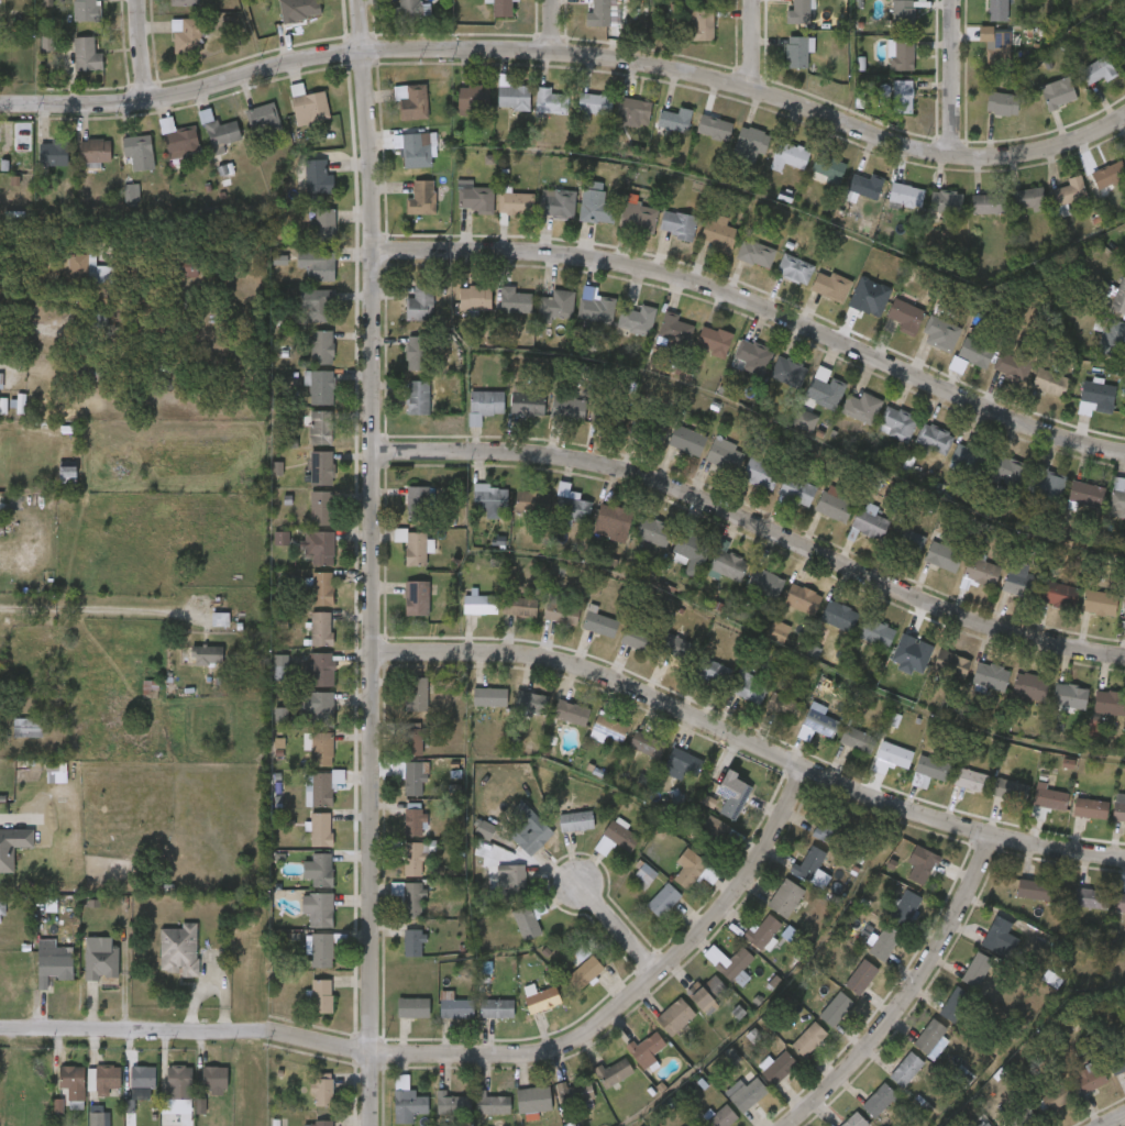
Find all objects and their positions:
building: (0, 1)
building: (184, 2)
building: (503, 8)
building: (408, 9)
building: (87, 10)
building: (997, 10)
building: (798, 12)
building: (602, 13)
building: (297, 14)
building: (903, 14)
road: (553, 19)
building: (701, 24)
building: (186, 35)
road: (755, 37)
road: (570, 40)
building: (999, 48)
road: (143, 49)
building: (797, 51)
building: (1121, 51)
building: (87, 54)
building: (902, 54)
building: (1096, 70)
road: (956, 71)
building: (1057, 93)
building: (902, 96)
building: (473, 97)
building: (514, 97)
building: (551, 100)
building: (412, 101)
building: (594, 103)
building: (1002, 103)
building: (310, 106)
building: (635, 110)
building: (263, 119)
building: (675, 120)
building: (715, 128)
building: (220, 129)
building: (0, 133)
building: (181, 140)
building: (751, 143)
building: (416, 148)
building: (95, 151)
building: (137, 152)
building: (53, 154)
building: (788, 155)
building: (828, 166)
building: (1110, 174)
building: (319, 176)
building: (864, 185)
building: (1070, 190)
building: (905, 192)
building: (132, 195)
building: (421, 198)
building: (1028, 198)
building: (474, 200)
building: (946, 201)
building: (517, 202)
building: (558, 202)
building: (988, 203)
building: (597, 209)
building: (639, 217)
building: (677, 224)
building: (322, 225)
building: (719, 235)
building: (755, 252)
building: (320, 265)
building: (136, 266)
building: (795, 268)
building: (86, 269)
building: (189, 271)
building: (831, 285)
building: (474, 296)
building: (1120, 297)
building: (514, 298)
building: (867, 300)
building: (420, 302)
building: (556, 303)
building: (321, 305)
road: (759, 306)
building: (597, 309)
building: (906, 316)
building: (99, 319)
building: (638, 319)
building: (676, 328)
building: (940, 334)
building: (1110, 334)
building: (714, 340)
building: (321, 346)
building: (975, 351)
building: (418, 352)
building: (753, 355)
building: (958, 365)
building: (1013, 365)
building: (788, 371)
building: (88, 372)
building: (0, 382)
building: (1050, 382)
building: (320, 386)
building: (825, 388)
building: (418, 396)
building: (1096, 396)
building: (486, 401)
building: (528, 402)
building: (569, 407)
building: (862, 407)
building: (609, 413)
building: (805, 421)
building: (897, 423)
building: (650, 426)
building: (321, 428)
building: (934, 439)
building: (686, 440)
building: (725, 453)
building: (989, 465)
building: (321, 467)
building: (67, 472)
building: (761, 472)
building: (1047, 486)
building: (797, 489)
building: (1085, 493)
building: (489, 498)
building: (1117, 498)
building: (418, 501)
building: (530, 501)
building: (831, 504)
building: (321, 507)
building: (572, 508)
building: (613, 521)
building: (870, 522)
road: (755, 523)
building: (653, 531)
building: (282, 539)
building: (907, 542)
building: (413, 545)
building: (323, 549)
building: (692, 550)
building: (942, 555)
building: (728, 561)
road: (373, 562)
building: (981, 571)
building: (765, 582)
building: (322, 588)
building: (1040, 589)
building: (417, 597)
building: (803, 598)
building: (1100, 601)
building: (481, 603)
building: (520, 606)
building: (562, 609)
road: (98, 610)
building: (839, 615)
building: (221, 619)
building: (599, 621)
building: (321, 628)
building: (779, 631)
building: (875, 631)
building: (639, 638)
building: (679, 647)
building: (913, 648)
building: (208, 655)
building: (955, 666)
building: (282, 667)
building: (322, 669)
building: (713, 671)
building: (991, 674)
building: (1029, 686)
building: (748, 688)
building: (417, 694)
building: (1070, 694)
building: (489, 696)
building: (531, 702)
building: (1110, 702)
building: (784, 705)
building: (321, 707)
building: (571, 711)
building: (282, 716)
building: (816, 722)
building: (610, 727)
building: (32, 728)
building: (857, 738)
building: (412, 739)
building: (644, 742)
road: (749, 742)
building: (13, 747)
building: (321, 748)
building: (894, 753)
building: (683, 761)
building: (933, 766)
building: (415, 777)
building: (971, 779)
building: (920, 781)
building: (321, 786)
building: (1011, 790)
building: (732, 794)
building: (1047, 801)
building: (1091, 807)
building: (1118, 810)
building: (576, 820)
road: (10, 821)
building: (413, 823)
building: (827, 828)
building: (321, 829)
building: (485, 830)
building: (725, 832)
building: (531, 837)
building: (615, 838)
building: (8, 857)
building: (413, 860)
building: (810, 863)
building: (924, 866)
building: (319, 869)
building: (690, 871)
building: (644, 872)
building: (511, 880)
building: (1034, 888)
building: (409, 896)
building: (785, 897)
building: (1090, 897)
building: (663, 899)
building: (1121, 902)
building: (906, 907)
building: (318, 909)
building: (2, 912)
building: (529, 918)
road: (618, 930)
building: (762, 930)
building: (412, 941)
building: (884, 942)
building: (322, 949)
building: (180, 950)
building: (990, 951)
building: (582, 953)
building: (101, 959)
building: (54, 963)
building: (736, 964)
building: (164, 970)
building: (584, 971)
building: (861, 976)
building: (85, 981)
building: (37, 989)
building: (707, 992)
road: (908, 994)
building: (322, 995)
building: (542, 998)
building: (957, 1004)
building: (412, 1006)
building: (455, 1007)
building: (496, 1007)
building: (836, 1008)
building: (675, 1016)
building: (930, 1036)
building: (809, 1038)
building: (648, 1046)
road: (468, 1053)
building: (1116, 1060)
building: (779, 1068)
building: (906, 1069)
building: (615, 1072)
building: (143, 1077)
building: (1091, 1077)
building: (214, 1078)
building: (103, 1080)
building: (73, 1082)
building: (180, 1083)
building: (575, 1090)
building: (746, 1090)
building: (322, 1091)
building: (140, 1093)
building: (126, 1096)
building: (199, 1096)
building: (1057, 1096)
building: (89, 1097)
building: (534, 1099)
building: (879, 1099)
building: (407, 1100)
building: (56, 1102)
building: (164, 1102)
building: (452, 1103)
building: (493, 1103)
building: (98, 1116)
building: (721, 1116)
building: (1022, 1116)
building: (854, 1121)
building: (42, 1122)
building: (185, 1122)
road: (1118, 1122)
building: (323, 1123)
building: (985, 1124)
building: (79, 1125)

